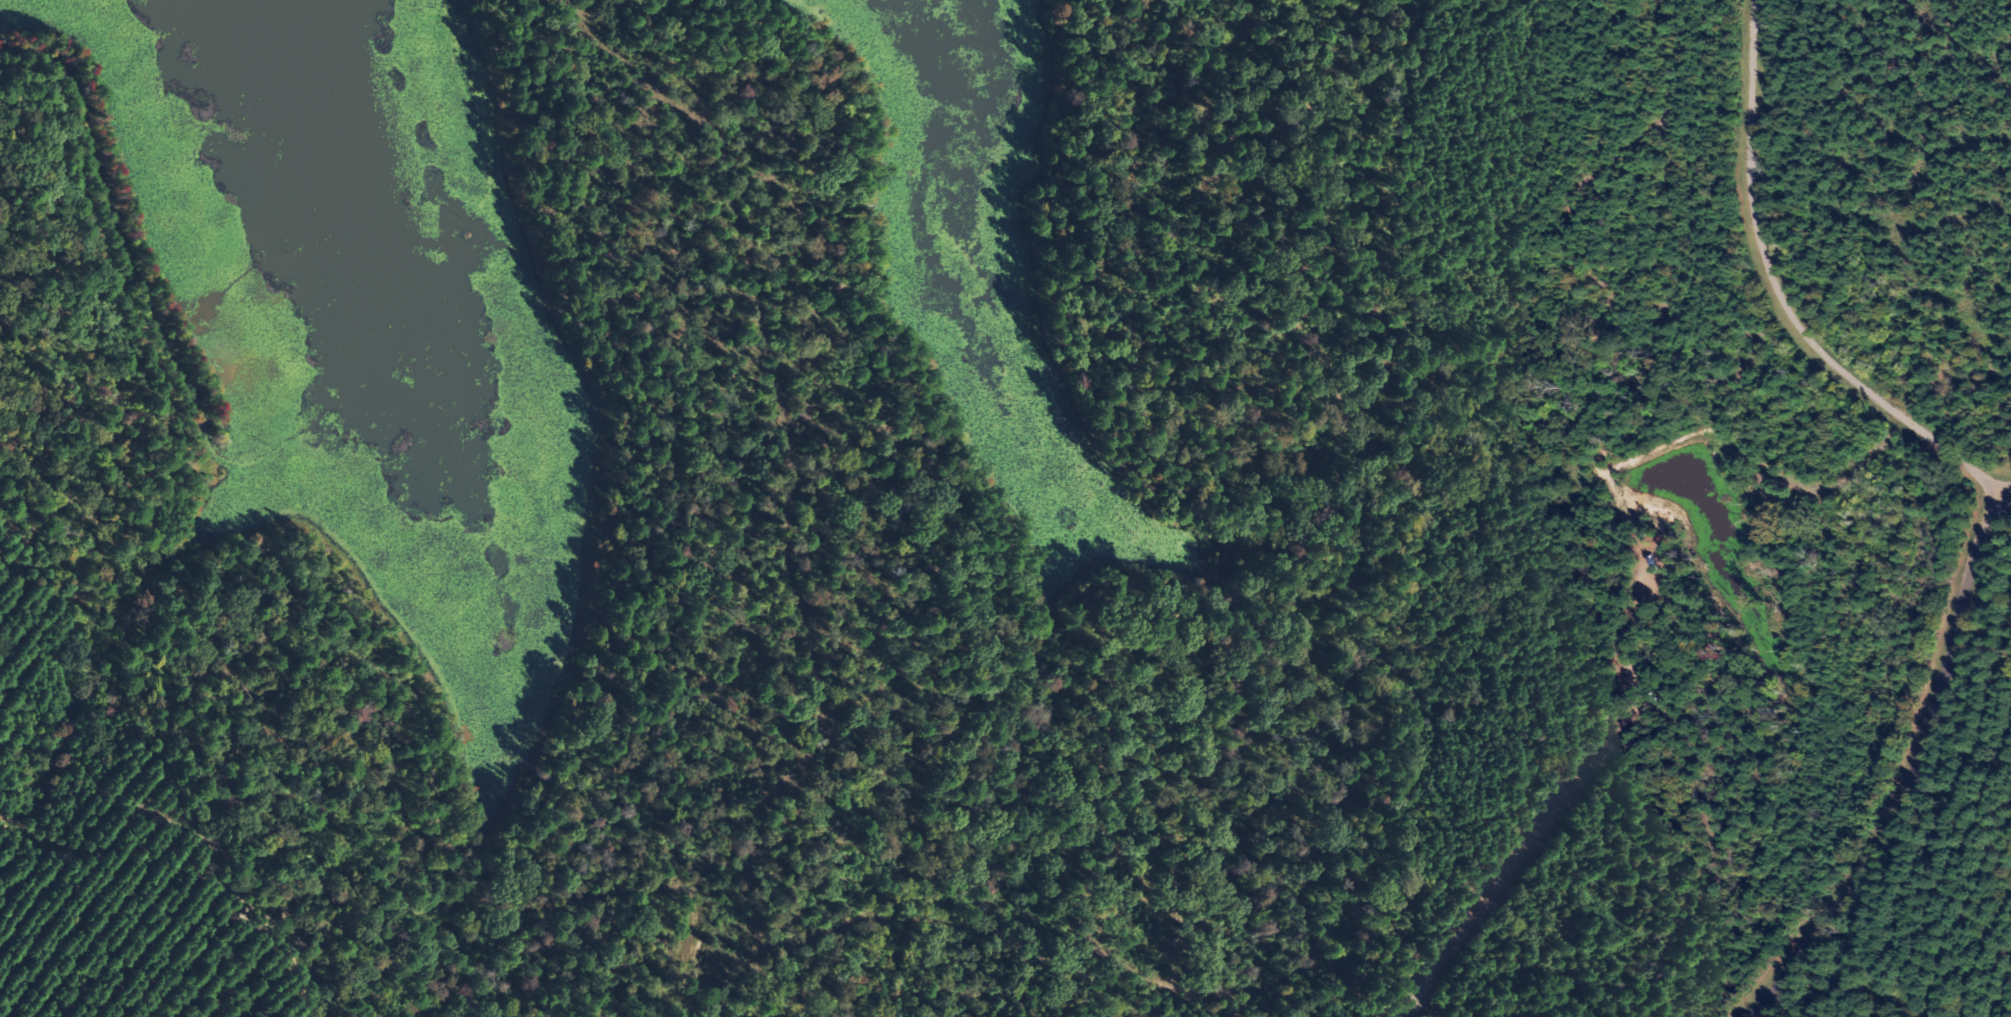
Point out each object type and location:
road: (1787, 297)
road: (1911, 774)
road: (20, 924)

